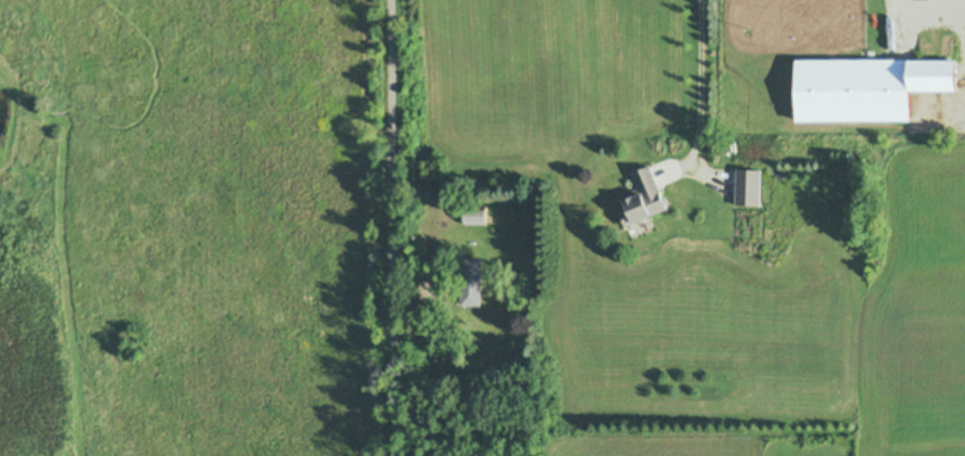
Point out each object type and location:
building: (932, 74)
road: (701, 79)
building: (732, 146)
building: (442, 166)
building: (747, 186)
building: (640, 197)
building: (474, 217)
building: (639, 225)
road: (395, 227)
building: (469, 281)
building: (498, 350)

